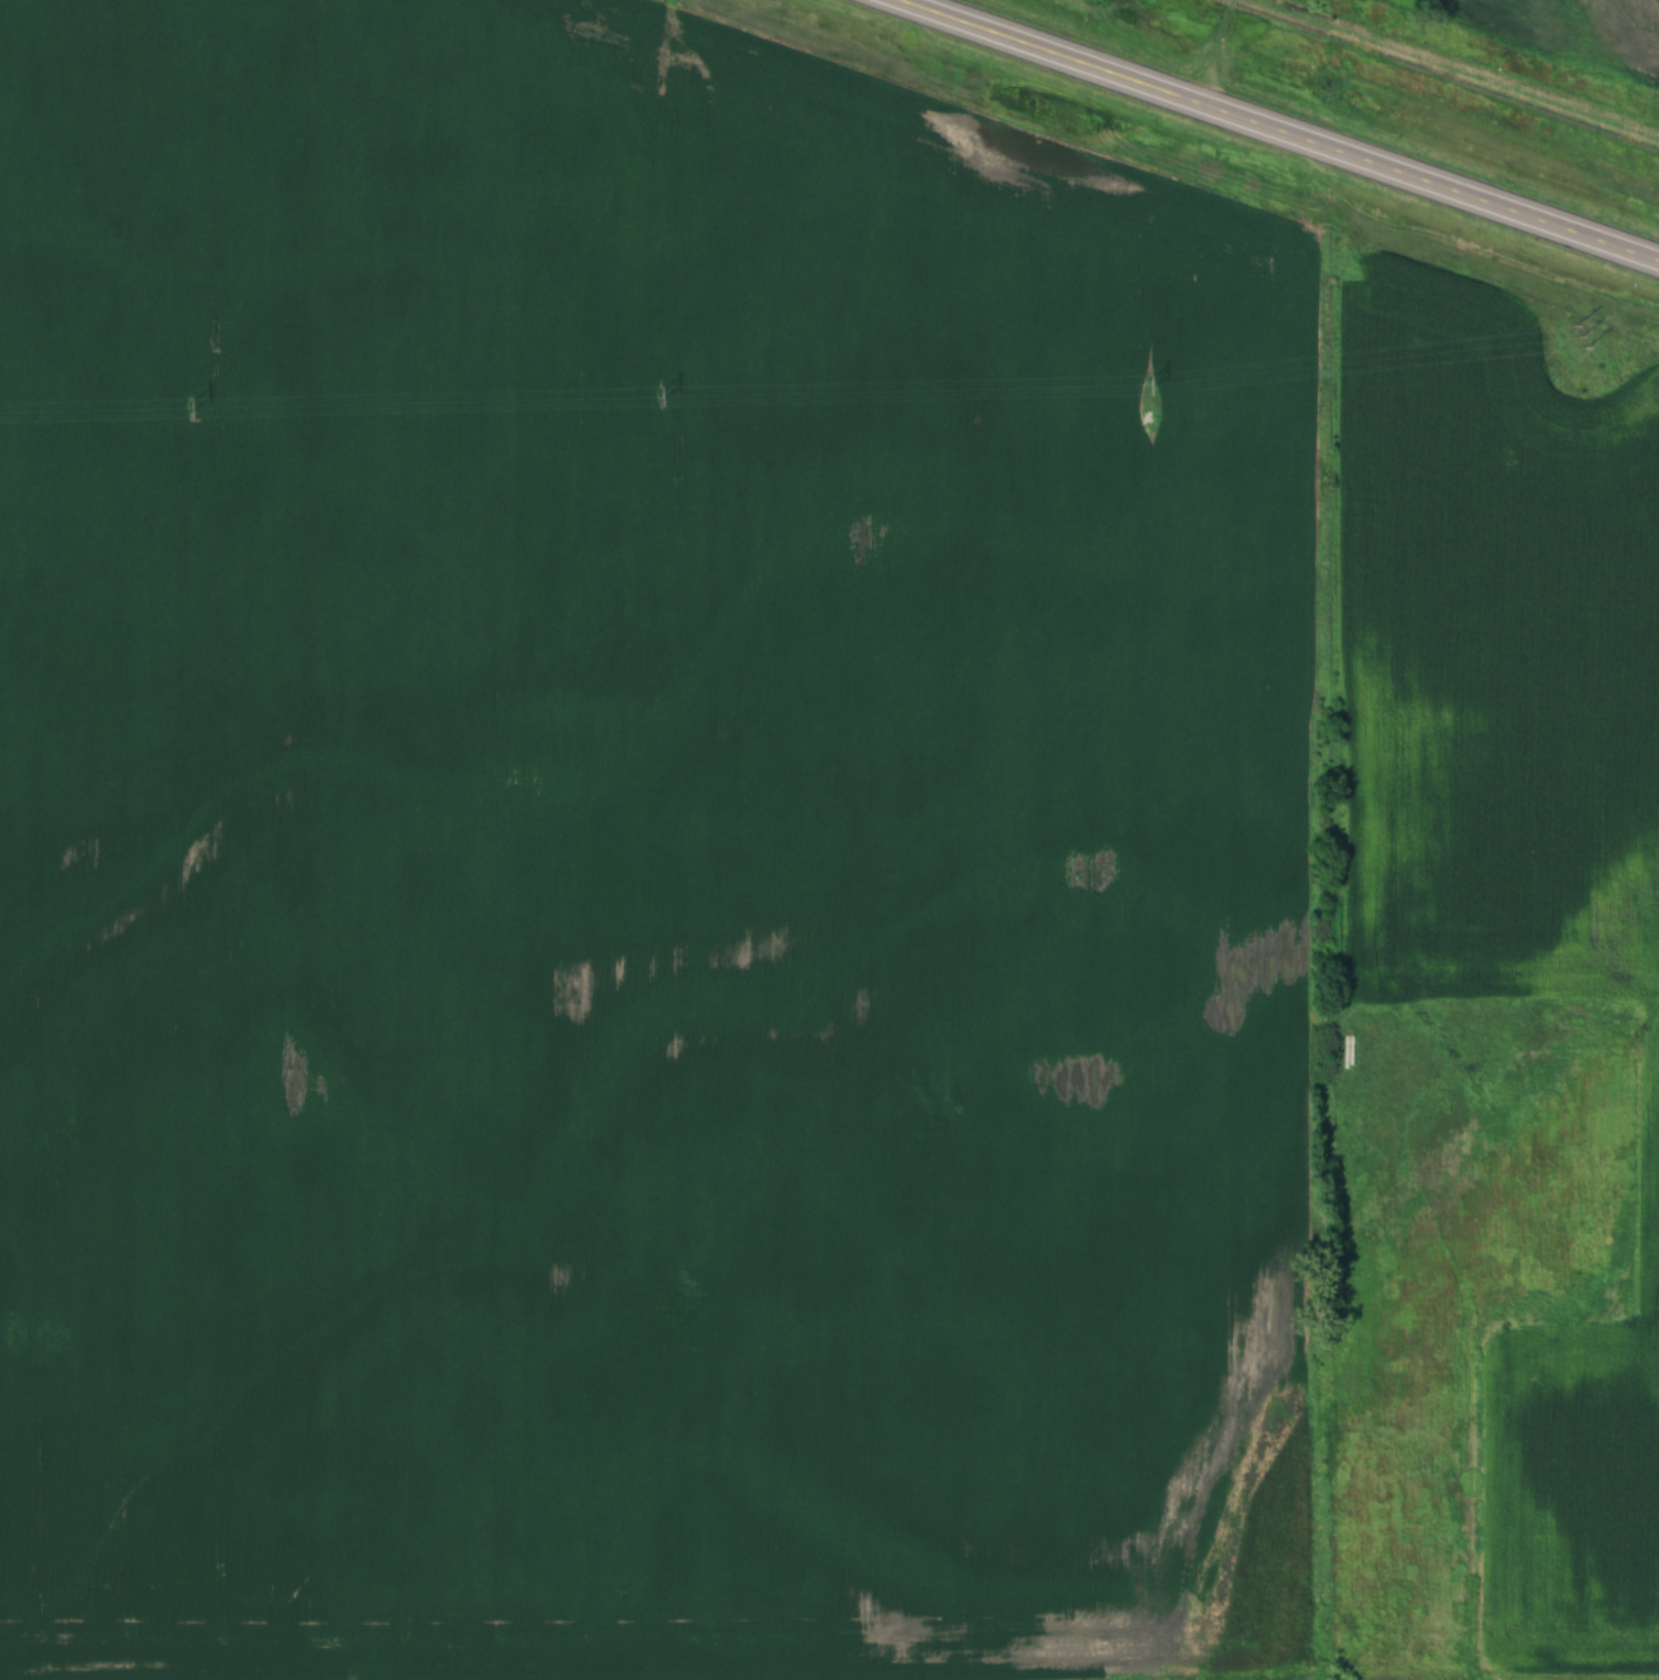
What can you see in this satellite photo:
road: (1213, 51)
railway: (1459, 68)
road: (1279, 130)
power tower: (1580, 336)
power tower: (1146, 385)
power tower: (658, 395)
power tower: (189, 406)

